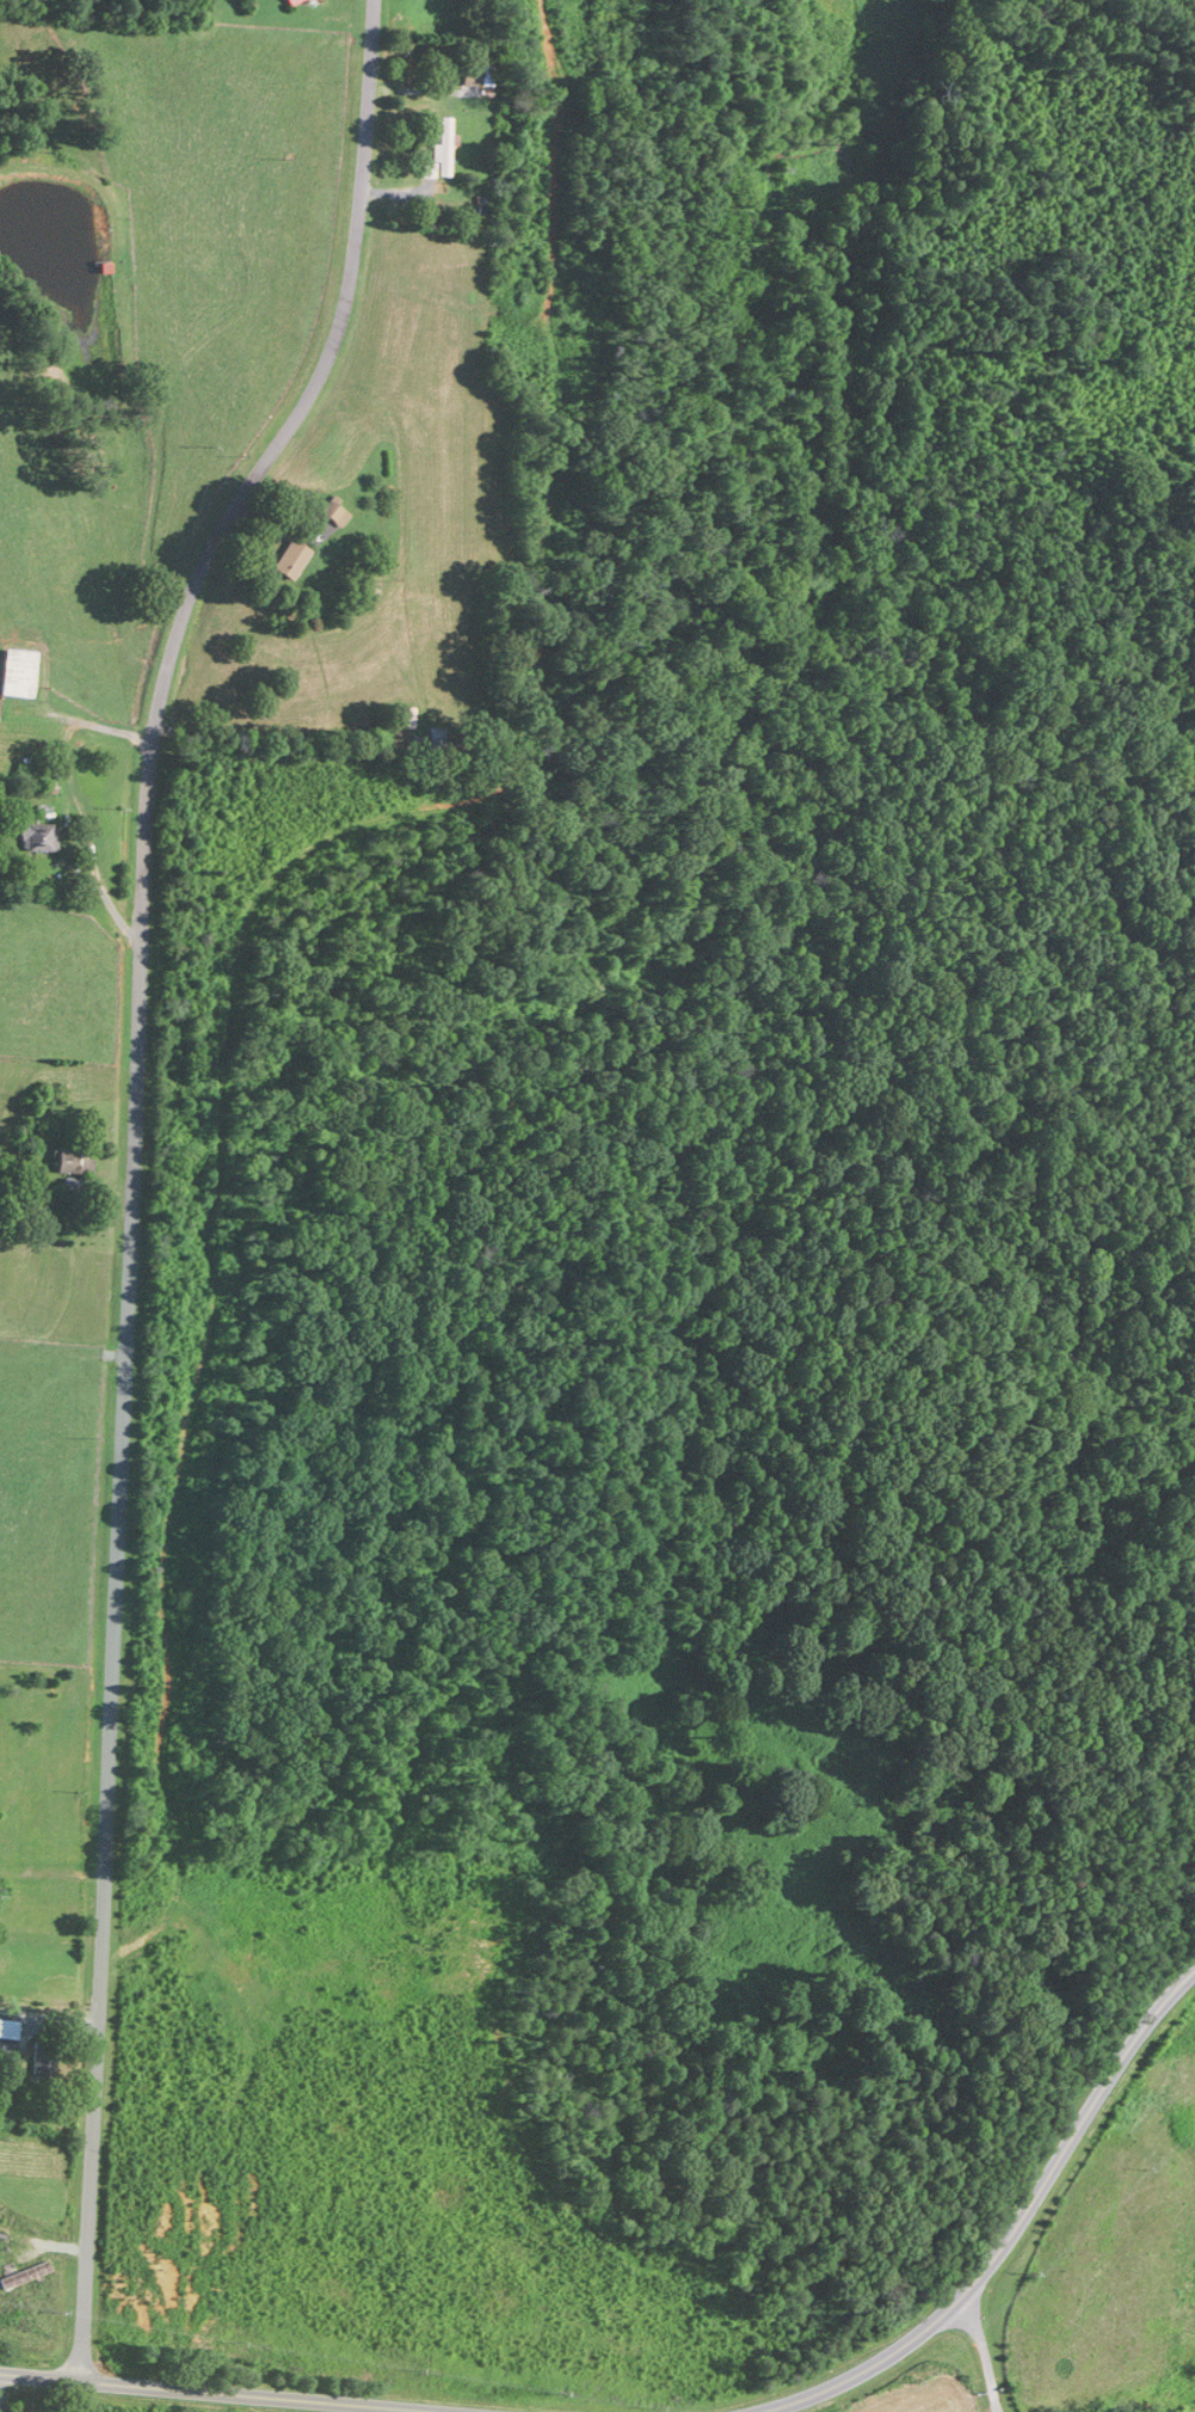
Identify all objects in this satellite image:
building: (307, 0)
building: (443, 147)
building: (335, 510)
building: (291, 559)
building: (20, 673)
building: (38, 837)
building: (75, 1162)
road: (130, 1164)
road: (48, 2019)
building: (11, 2035)
building: (45, 2059)
road: (1014, 2227)
building: (25, 2275)
road: (985, 2353)
road: (216, 2393)

